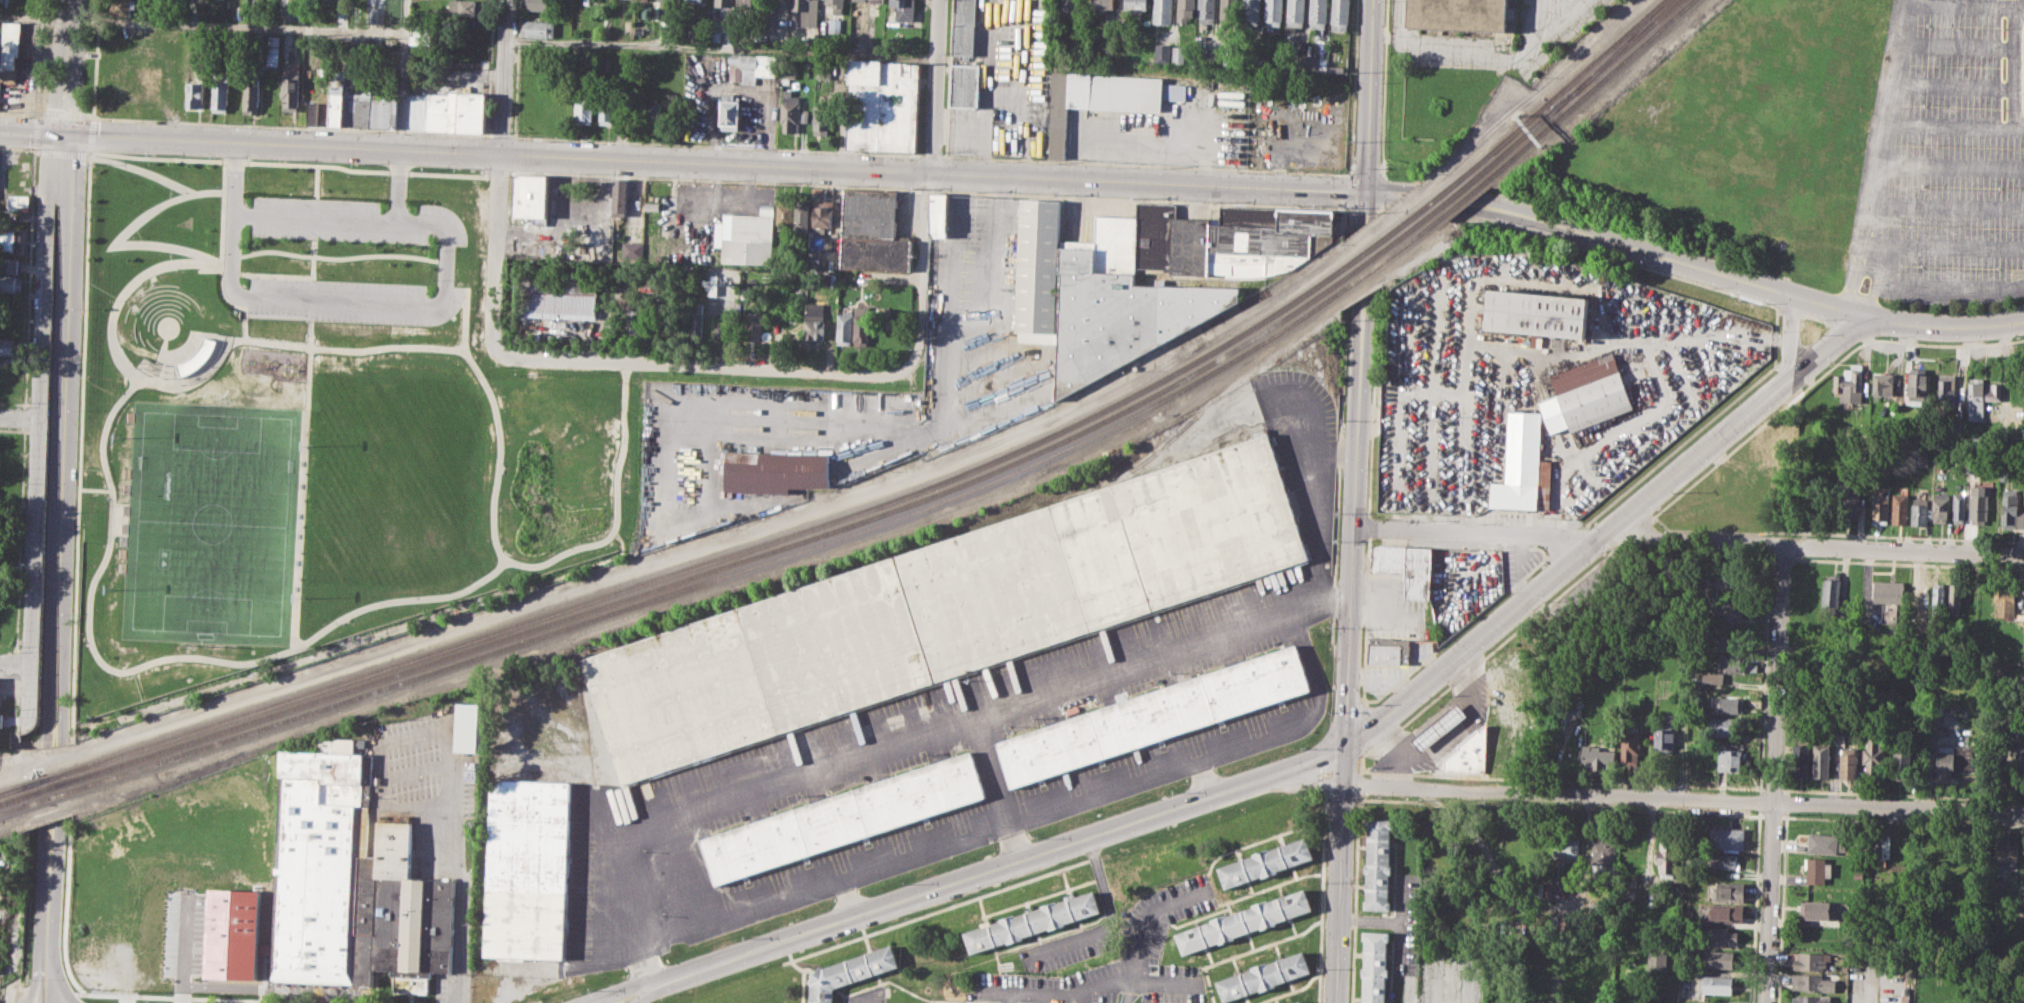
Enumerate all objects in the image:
building: (646, 0)
building: (666, 0)
building: (694, 0)
building: (860, 0)
building: (719, 1)
building: (876, 1)
building: (740, 2)
building: (536, 4)
road: (1965, 4)
building: (803, 5)
building: (1067, 5)
building: (1102, 5)
building: (1135, 5)
building: (465, 6)
building: (836, 6)
building: (121, 7)
building: (659, 7)
building: (903, 9)
building: (289, 10)
building: (1186, 10)
building: (1206, 11)
building: (1251, 11)
building: (1163, 12)
building: (1228, 12)
building: (1273, 13)
building: (355, 14)
building: (372, 14)
building: (1296, 14)
building: (1319, 15)
building: (1340, 15)
building: (1463, 15)
road: (403, 16)
road: (35, 19)
road: (1544, 19)
building: (835, 24)
building: (538, 27)
building: (964, 27)
road: (295, 29)
building: (367, 46)
road: (1957, 47)
road: (720, 48)
building: (9, 49)
building: (272, 50)
building: (1163, 53)
building: (1179, 54)
railway: (1612, 54)
railway: (1616, 54)
road: (1481, 55)
road: (38, 57)
road: (95, 62)
building: (1306, 62)
road: (987, 63)
road: (1895, 63)
building: (749, 64)
road: (69, 67)
road: (488, 68)
road: (516, 68)
road: (2017, 68)
building: (824, 69)
road: (504, 76)
road: (947, 78)
road: (934, 84)
building: (965, 85)
building: (291, 87)
road: (1955, 87)
road: (1383, 88)
building: (219, 90)
building: (251, 93)
building: (193, 94)
road: (1371, 96)
building: (1103, 98)
building: (335, 104)
building: (882, 105)
building: (356, 109)
building: (584, 109)
building: (605, 109)
building: (383, 110)
building: (471, 110)
building: (730, 110)
building: (441, 111)
road: (18, 112)
road: (38, 113)
road: (63, 113)
building: (789, 113)
building: (652, 114)
building: (804, 115)
building: (823, 115)
road: (289, 125)
road: (958, 125)
road: (1893, 127)
road: (35, 131)
road: (33, 133)
road: (91, 134)
road: (498, 135)
road: (714, 145)
road: (17, 147)
road: (982, 149)
road: (484, 151)
road: (36, 152)
road: (92, 152)
road: (62, 153)
road: (930, 155)
parking lot: (1944, 157)
road: (716, 161)
road: (1950, 166)
road: (1231, 169)
road: (484, 171)
road: (1348, 174)
road: (1365, 175)
road: (225, 176)
road: (1381, 176)
road: (1382, 190)
traffic signals: (1367, 192)
road: (1384, 194)
building: (531, 196)
building: (619, 196)
building: (20, 202)
building: (652, 206)
road: (1367, 208)
road: (1945, 208)
road: (1379, 209)
building: (938, 213)
building: (785, 214)
building: (822, 215)
road: (315, 217)
building: (802, 218)
parking lot: (353, 219)
building: (874, 232)
building: (11, 240)
building: (743, 243)
building: (632, 249)
road: (1941, 249)
road: (87, 251)
road: (496, 251)
road: (922, 251)
road: (221, 253)
road: (332, 257)
road: (313, 260)
road: (1669, 260)
building: (8, 265)
building: (1037, 265)
road: (29, 278)
road: (1851, 279)
building: (11, 283)
road: (1950, 293)
building: (556, 297)
parking lot: (352, 299)
road: (357, 300)
road: (1872, 302)
building: (1537, 313)
building: (886, 317)
building: (1134, 317)
building: (634, 321)
building: (696, 324)
building: (753, 324)
building: (845, 326)
building: (862, 328)
building: (815, 329)
road: (1945, 331)
building: (718, 332)
road: (1792, 338)
road: (1631, 339)
road: (263, 341)
building: (10, 345)
road: (416, 346)
road: (179, 349)
road: (1830, 349)
road: (158, 353)
road: (718, 366)
road: (197, 378)
building: (1882, 383)
building: (1849, 385)
building: (1918, 387)
building: (1947, 391)
building: (1995, 391)
building: (1587, 394)
building: (1976, 399)
road: (1372, 401)
road: (20, 415)
road: (24, 417)
park: (311, 425)
road: (39, 427)
road: (60, 441)
building: (1922, 460)
building: (1519, 463)
building: (774, 470)
road: (95, 488)
road: (1319, 492)
road: (302, 496)
building: (1848, 498)
railway: (886, 502)
building: (1880, 505)
building: (1978, 505)
building: (1959, 507)
building: (1940, 508)
building: (1899, 509)
building: (2010, 510)
building: (1918, 512)
railway: (902, 514)
park: (211, 522)
road: (1353, 522)
road: (1369, 526)
railway: (817, 535)
road: (1567, 536)
road: (20, 539)
road: (1903, 549)
building: (1376, 558)
building: (1392, 558)
road: (1568, 563)
road: (538, 564)
building: (1417, 571)
road: (1525, 574)
building: (1732, 579)
building: (1830, 591)
building: (1970, 592)
building: (1953, 594)
building: (1938, 595)
building: (1888, 598)
building: (2003, 601)
building: (945, 609)
building: (1728, 609)
road: (1365, 620)
road: (91, 636)
building: (1723, 640)
building: (1388, 650)
road: (15, 661)
building: (1729, 662)
road: (17, 665)
road: (1779, 673)
building: (1711, 677)
building: (1727, 704)
road: (14, 706)
road: (1304, 709)
road: (1349, 711)
building: (1566, 714)
building: (1155, 716)
building: (1726, 725)
building: (1438, 726)
gas station: (1438, 726)
building: (464, 727)
road: (438, 728)
road: (898, 735)
building: (1663, 738)
building: (2020, 741)
building: (1631, 745)
traffic signals: (1345, 746)
building: (1872, 753)
building: (1729, 754)
building: (1462, 755)
gas station: (1462, 755)
building: (1597, 756)
building: (1900, 759)
building: (1800, 760)
building: (1821, 760)
road: (1361, 762)
building: (1846, 763)
building: (1944, 764)
road: (1328, 772)
road: (416, 773)
road: (1304, 782)
road: (1327, 784)
road: (1360, 784)
road: (995, 786)
road: (1559, 793)
road: (1899, 807)
building: (847, 818)
road: (940, 835)
building: (1726, 837)
building: (1822, 843)
building: (247, 844)
building: (153, 845)
building: (1565, 847)
building: (1880, 848)
building: (2005, 851)
building: (1603, 852)
building: (1667, 856)
building: (1724, 860)
building: (94, 863)
building: (1379, 863)
building: (1269, 865)
road: (999, 867)
building: (1817, 870)
building: (528, 871)
road: (1340, 874)
building: (348, 886)
building: (1727, 891)
road: (844, 894)
road: (1322, 898)
road: (1354, 899)
road: (462, 902)
road: (1770, 903)
building: (1815, 909)
road: (48, 913)
building: (1725, 913)
road: (28, 917)
road: (1108, 921)
building: (1246, 924)
building: (1034, 925)
road: (1143, 929)
building: (233, 934)
building: (1722, 936)
road: (1245, 951)
road: (193, 957)
building: (1856, 957)
building: (1717, 959)
building: (1809, 960)
building: (1656, 961)
building: (1374, 967)
building: (853, 973)
building: (1265, 978)
building: (1812, 982)
building: (1715, 984)
road: (1289, 991)
road: (609, 993)
road: (1067, 993)
road: (107, 994)
road: (643, 995)
building: (1903, 998)
building: (1811, 999)
building: (1632, 1000)
road: (591, 1001)
building: (1300, 1002)

